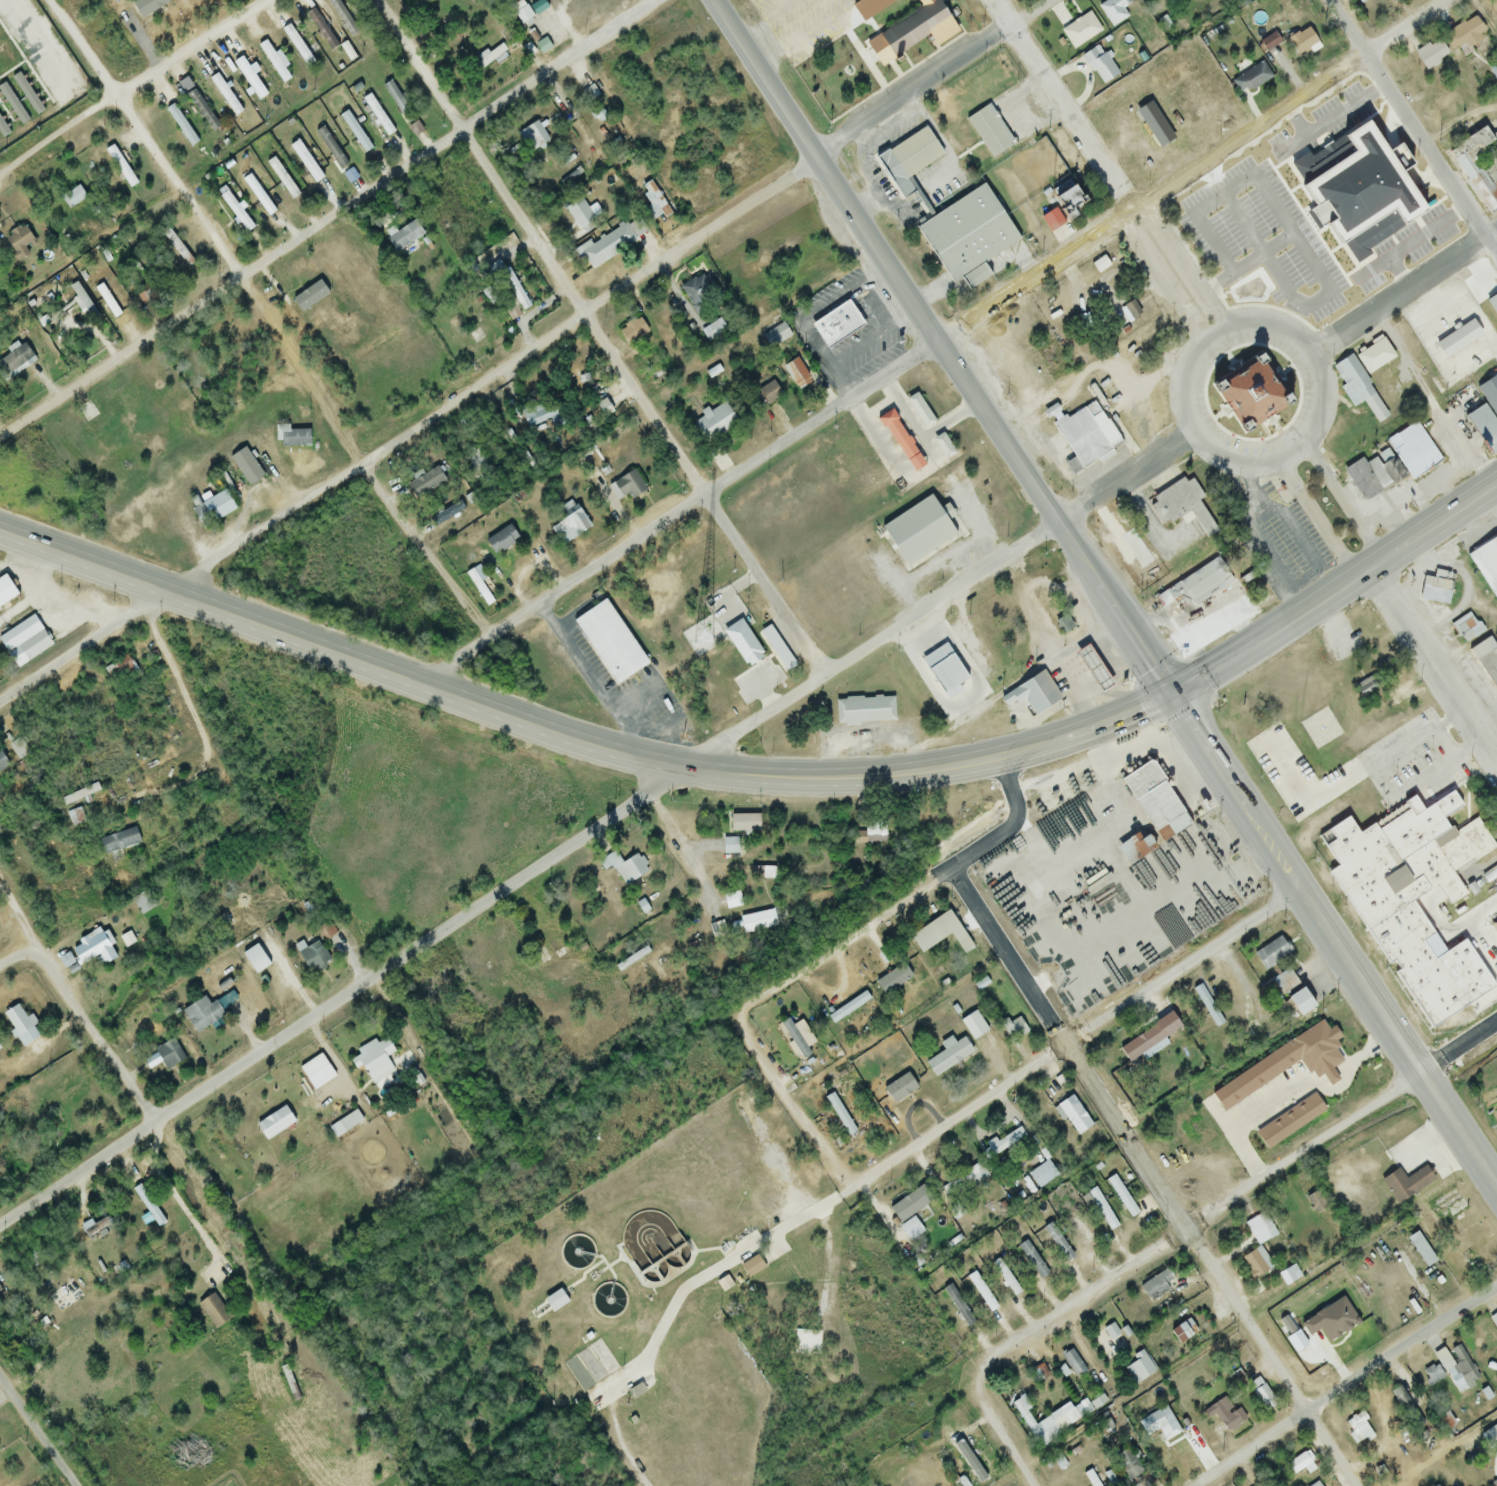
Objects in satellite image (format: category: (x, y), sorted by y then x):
building: (1359, 1)
building: (1112, 11)
building: (521, 15)
building: (901, 25)
building: (1080, 29)
building: (1463, 35)
building: (1300, 41)
road: (38, 42)
building: (296, 45)
building: (1430, 53)
building: (1098, 65)
building: (247, 79)
road: (133, 91)
building: (223, 95)
building: (178, 123)
building: (1154, 128)
building: (990, 129)
road: (1408, 133)
building: (532, 136)
building: (1380, 136)
building: (1393, 151)
building: (916, 152)
building: (1318, 159)
building: (304, 162)
building: (1375, 163)
road: (1104, 168)
building: (1478, 168)
building: (281, 178)
building: (71, 197)
building: (1064, 199)
building: (234, 212)
building: (578, 213)
road: (324, 216)
building: (1399, 221)
building: (967, 232)
building: (402, 235)
building: (1361, 241)
building: (1311, 242)
building: (607, 246)
building: (1323, 279)
building: (700, 295)
road: (1404, 298)
building: (1492, 305)
road: (265, 321)
building: (832, 322)
building: (632, 330)
building: (712, 331)
building: (774, 336)
road: (599, 338)
road: (940, 348)
road: (523, 349)
building: (1008, 350)
road: (1312, 361)
building: (795, 374)
building: (1358, 390)
building: (1251, 392)
building: (766, 395)
building: (919, 411)
building: (714, 422)
building: (1085, 438)
building: (899, 442)
building: (943, 447)
building: (1412, 451)
building: (474, 458)
building: (425, 483)
road: (1496, 484)
building: (1182, 506)
building: (210, 510)
building: (569, 523)
building: (916, 533)
building: (1486, 565)
building: (1196, 586)
building: (1434, 590)
road: (1107, 591)
road: (1395, 609)
building: (1466, 628)
road: (1261, 639)
building: (606, 640)
building: (32, 646)
building: (1486, 662)
building: (1088, 667)
building: (1036, 693)
traffic signals: (1175, 696)
building: (863, 711)
road: (494, 713)
road: (1447, 742)
road: (1494, 753)
building: (1154, 801)
building: (74, 818)
building: (743, 823)
road: (596, 825)
building: (728, 847)
road: (686, 851)
building: (611, 859)
building: (1400, 862)
building: (1161, 865)
building: (630, 870)
building: (1488, 871)
road: (911, 899)
building: (730, 901)
building: (1183, 906)
building: (756, 922)
road: (1394, 928)
building: (938, 934)
building: (90, 950)
building: (1271, 954)
road: (19, 960)
building: (253, 960)
building: (564, 962)
building: (1493, 969)
building: (1284, 983)
building: (246, 1002)
road: (77, 1005)
building: (1207, 1006)
building: (1293, 1007)
building: (200, 1014)
building: (18, 1025)
building: (972, 1026)
building: (1013, 1028)
building: (1136, 1044)
building: (947, 1057)
building: (374, 1060)
building: (315, 1073)
building: (899, 1089)
road: (791, 1101)
building: (839, 1114)
building: (1072, 1116)
building: (990, 1155)
road: (898, 1158)
building: (1042, 1175)
building: (966, 1178)
road: (1153, 1180)
building: (1405, 1184)
road: (1242, 1188)
building: (1120, 1197)
road: (177, 1202)
building: (1259, 1229)
building: (1080, 1231)
building: (1056, 1244)
building: (1255, 1263)
building: (1157, 1287)
building: (212, 1312)
building: (1493, 1320)
building: (1181, 1331)
building: (806, 1342)
building: (1455, 1366)
building: (1138, 1368)
building: (1431, 1376)
road: (1349, 1387)
building: (1252, 1389)
building: (1232, 1419)
road: (1003, 1424)
building: (1044, 1424)
building: (1158, 1425)
road: (41, 1427)
road: (1450, 1451)
building: (971, 1462)
building: (1297, 1463)
building: (1127, 1464)
building: (1496, 1485)

